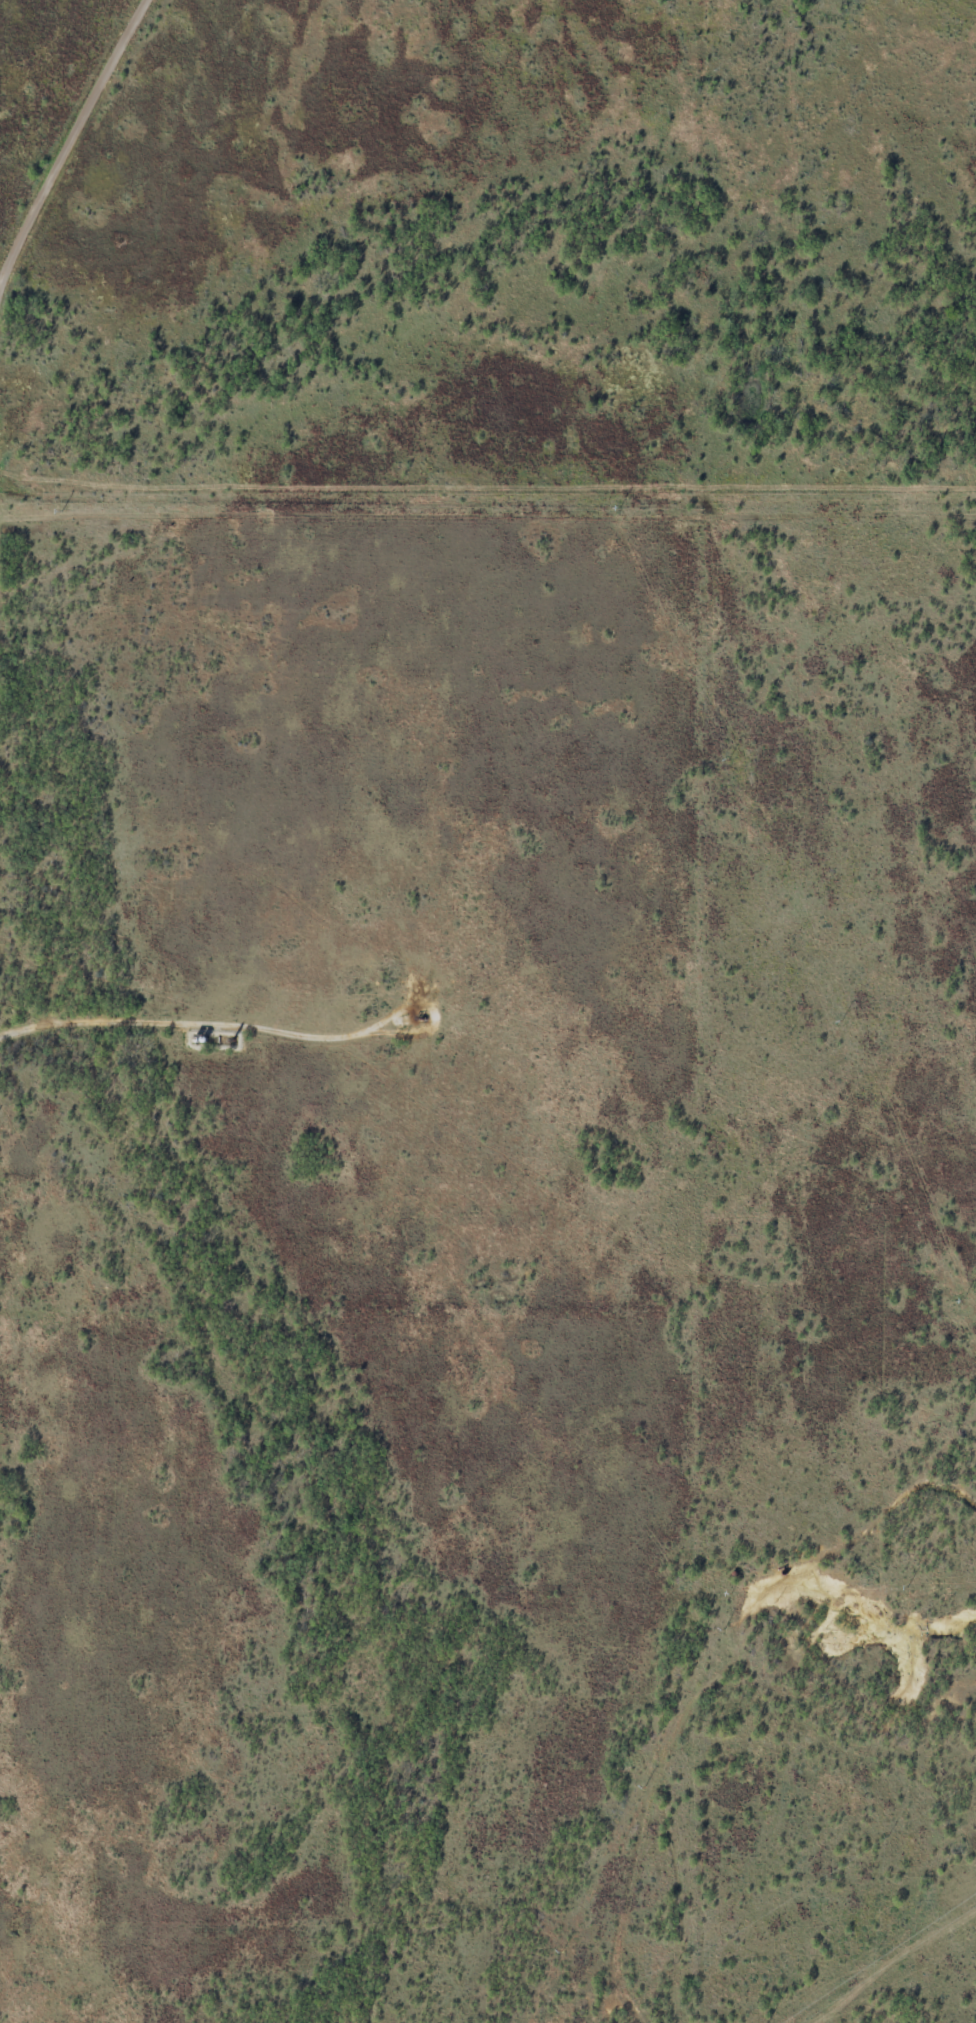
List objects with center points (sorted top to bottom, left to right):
road: (67, 149)
road: (615, 1863)
road: (893, 1929)

